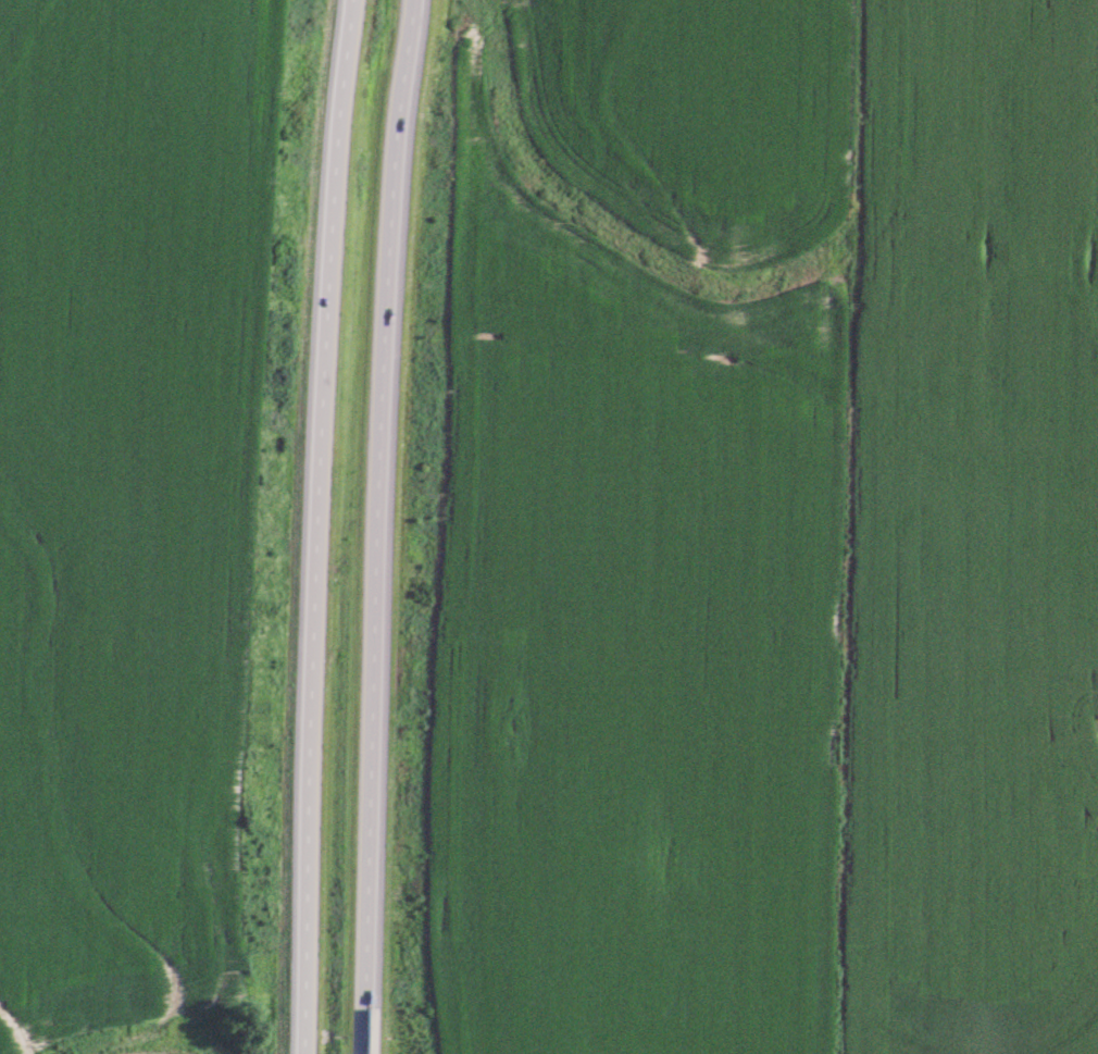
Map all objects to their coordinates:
road: (314, 525)
road: (380, 526)

